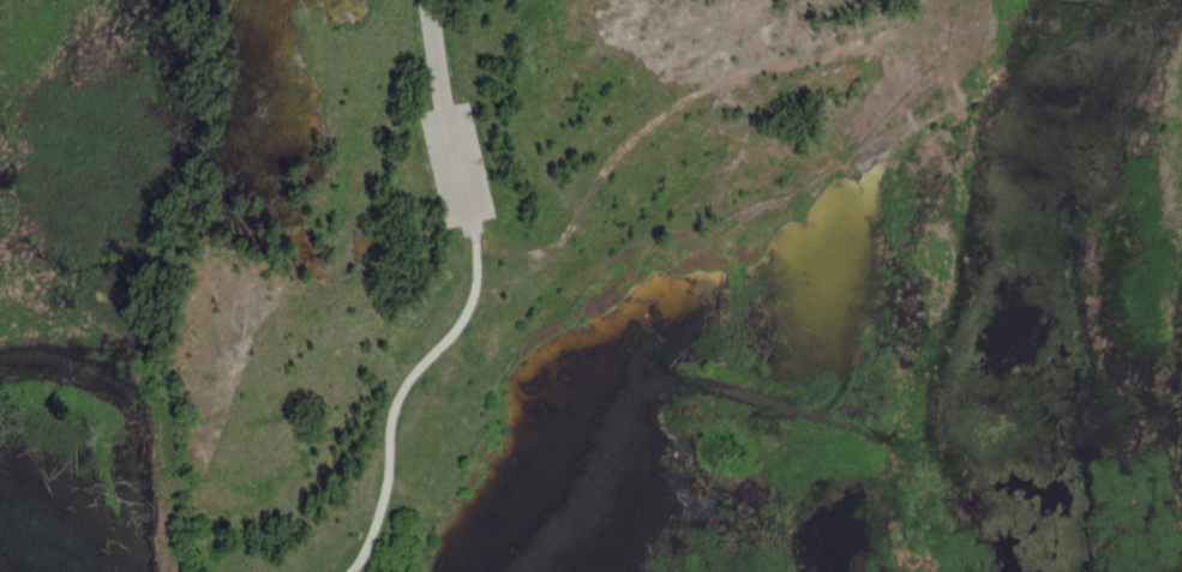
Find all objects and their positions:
road: (452, 114)
parking lot: (463, 158)
road: (407, 391)

